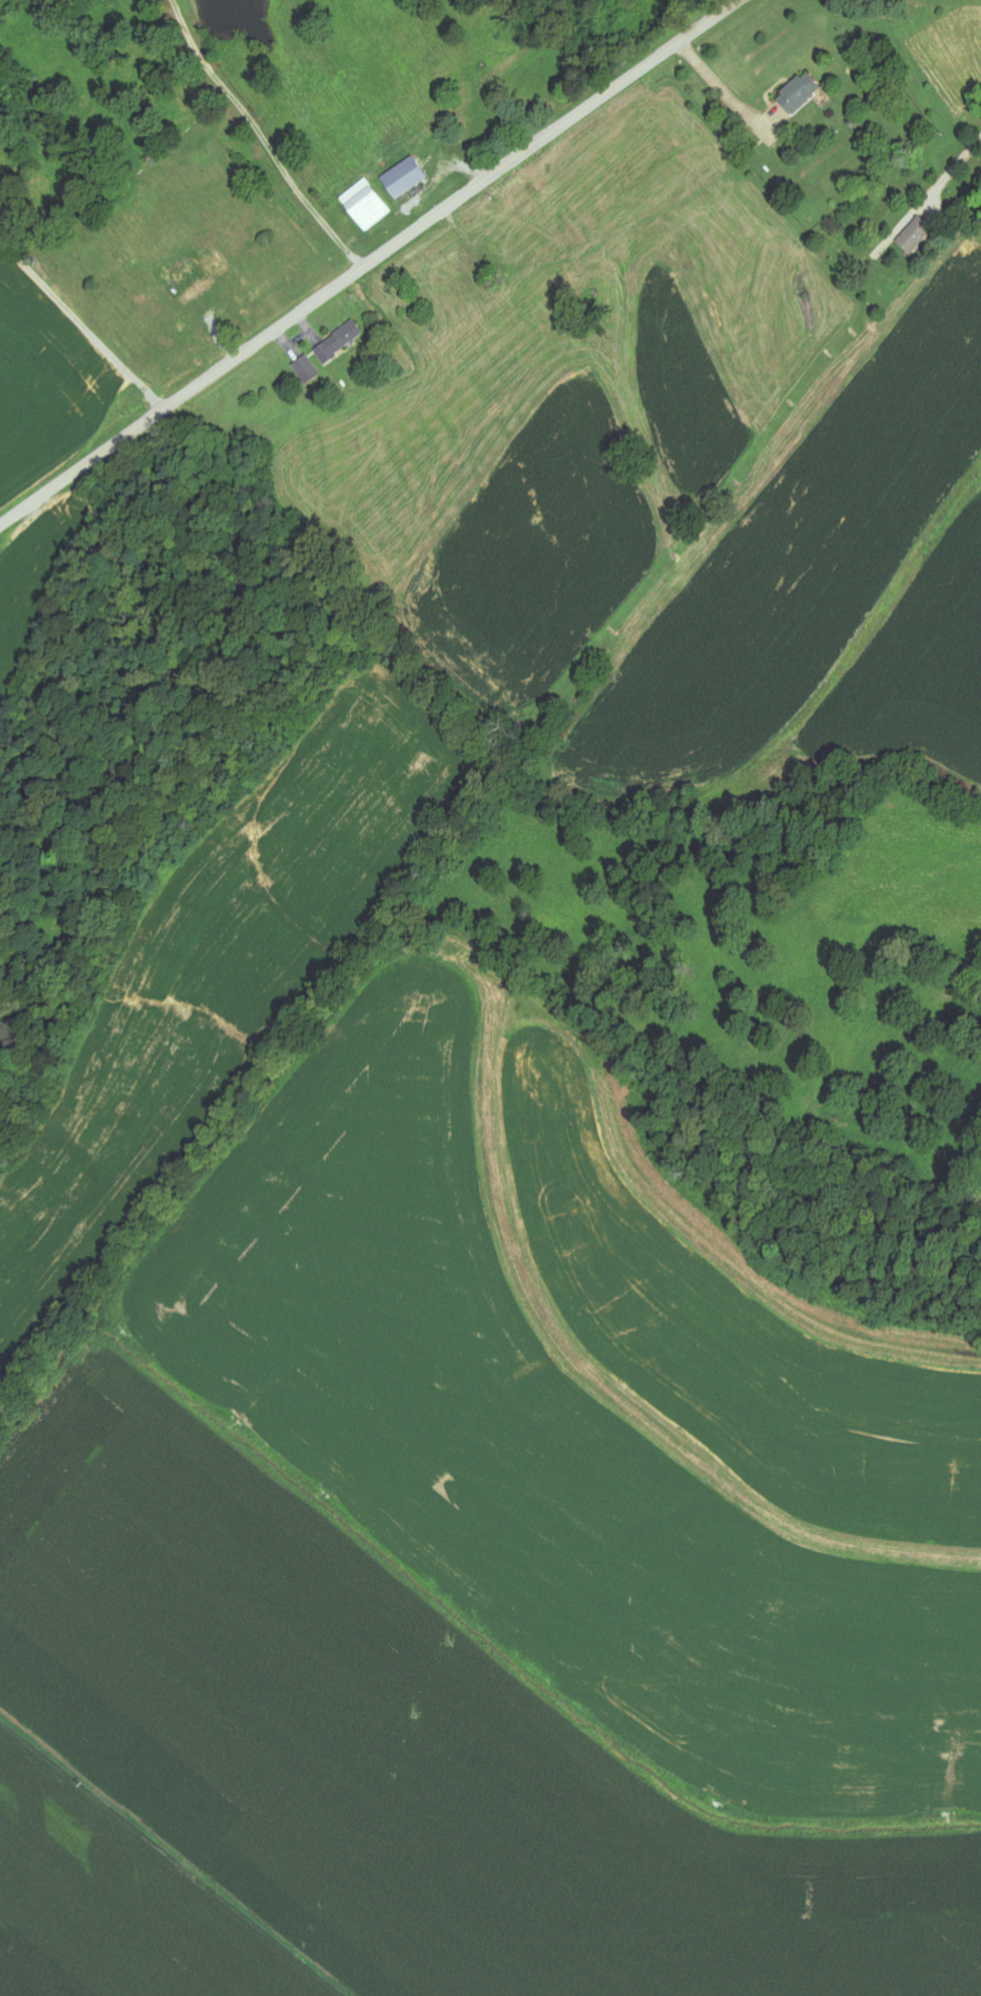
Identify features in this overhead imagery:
building: (800, 95)
building: (405, 179)
building: (367, 206)
building: (916, 236)
road: (370, 263)
road: (98, 302)
building: (340, 342)
building: (308, 370)

